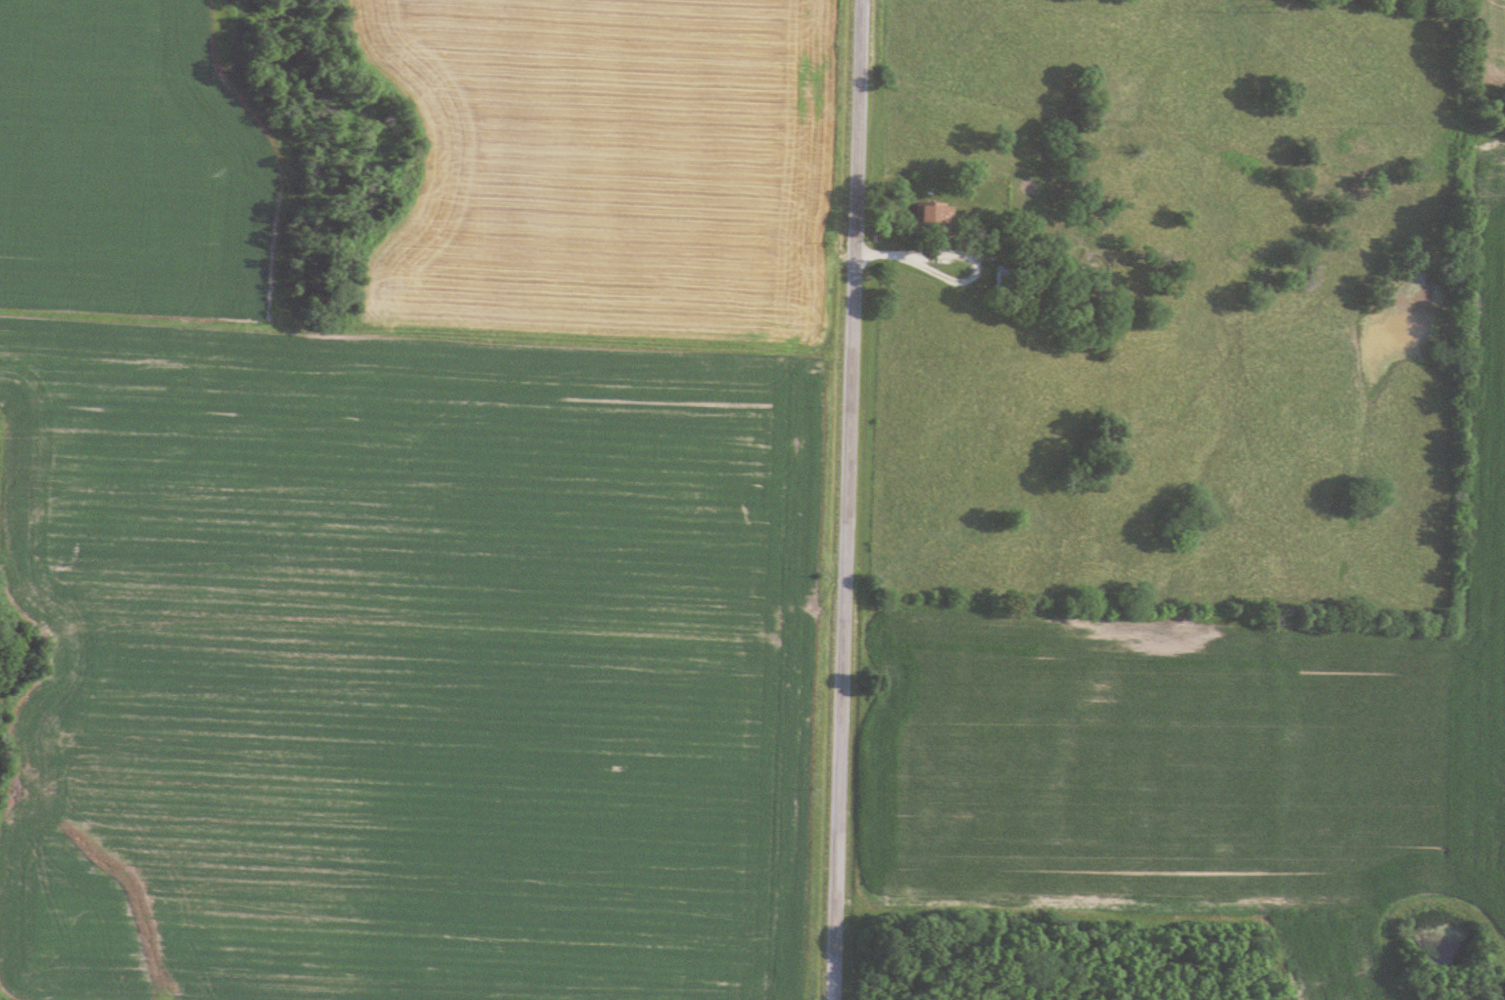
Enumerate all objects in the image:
building: (935, 214)
road: (988, 254)
building: (1003, 277)
road: (847, 500)

